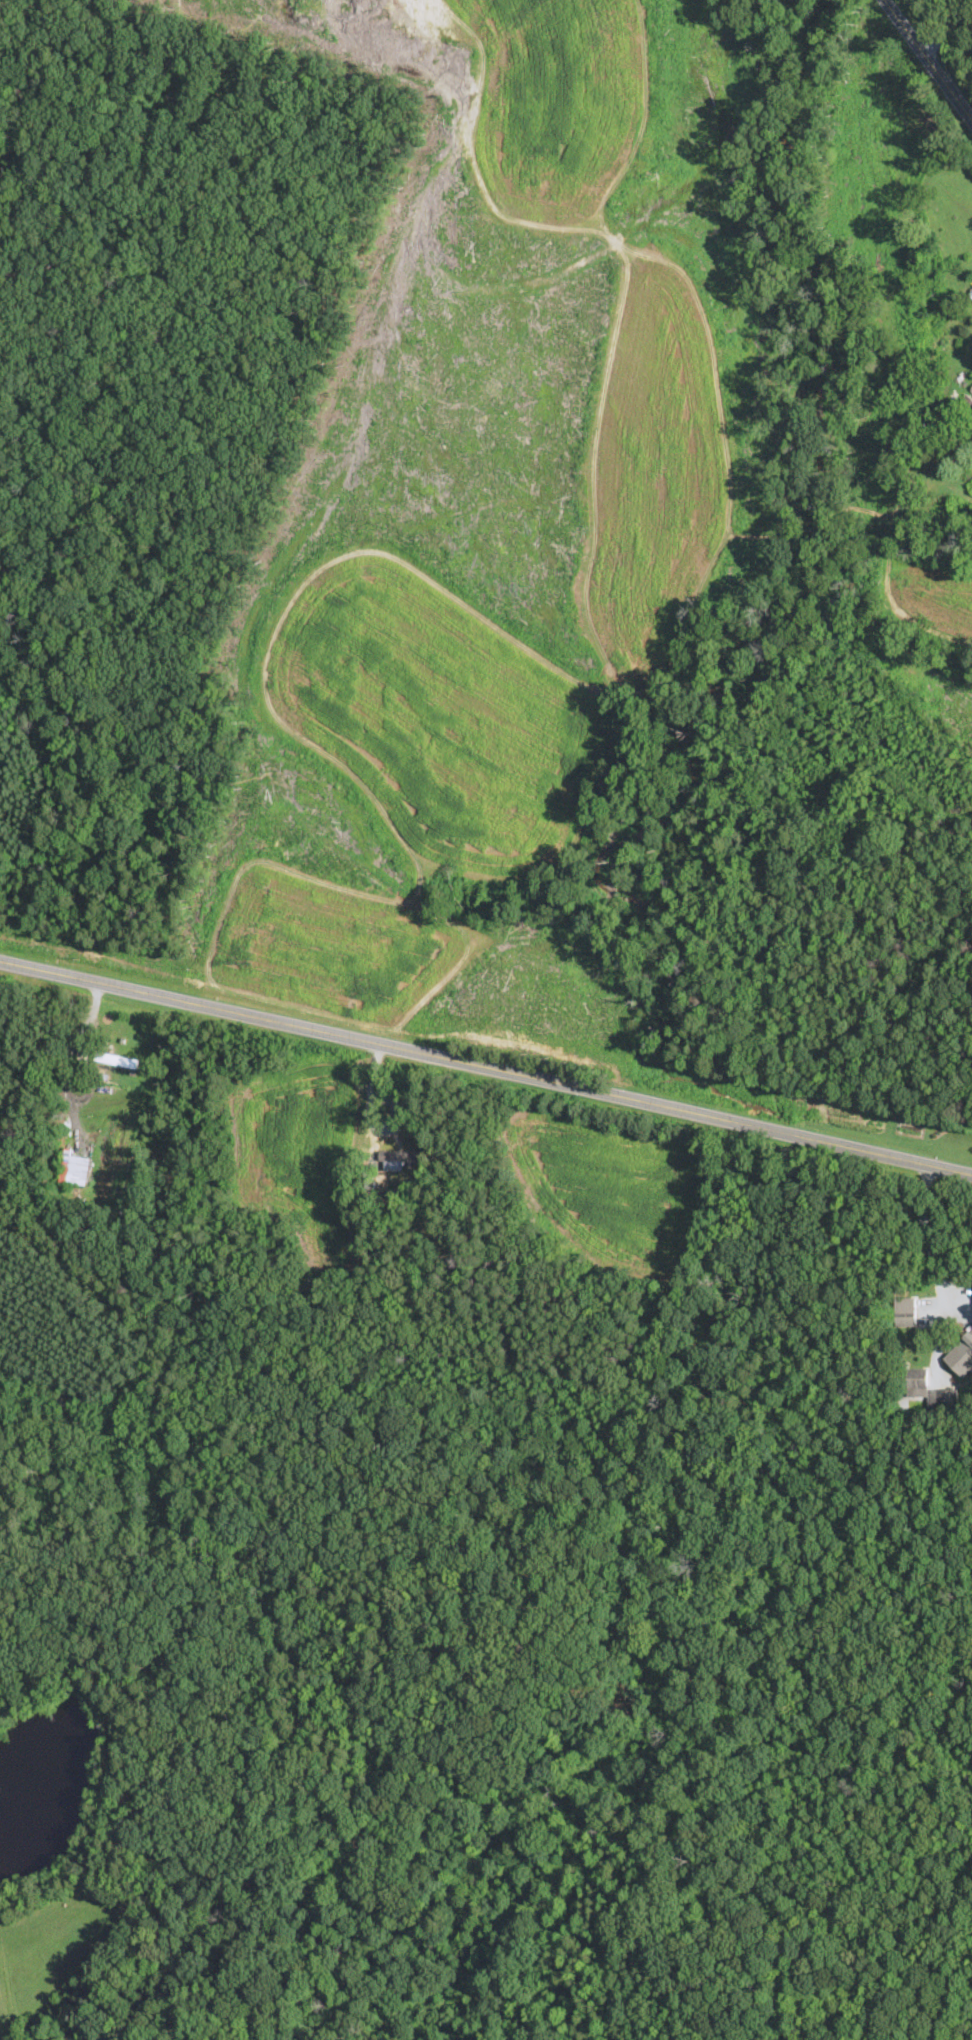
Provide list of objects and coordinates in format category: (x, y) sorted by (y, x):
road: (948, 28)
road: (930, 58)
building: (968, 401)
road: (486, 1066)
road: (370, 1091)
building: (75, 1169)
road: (927, 1240)
building: (906, 1316)
building: (966, 1347)
building: (917, 1378)
building: (948, 1401)

